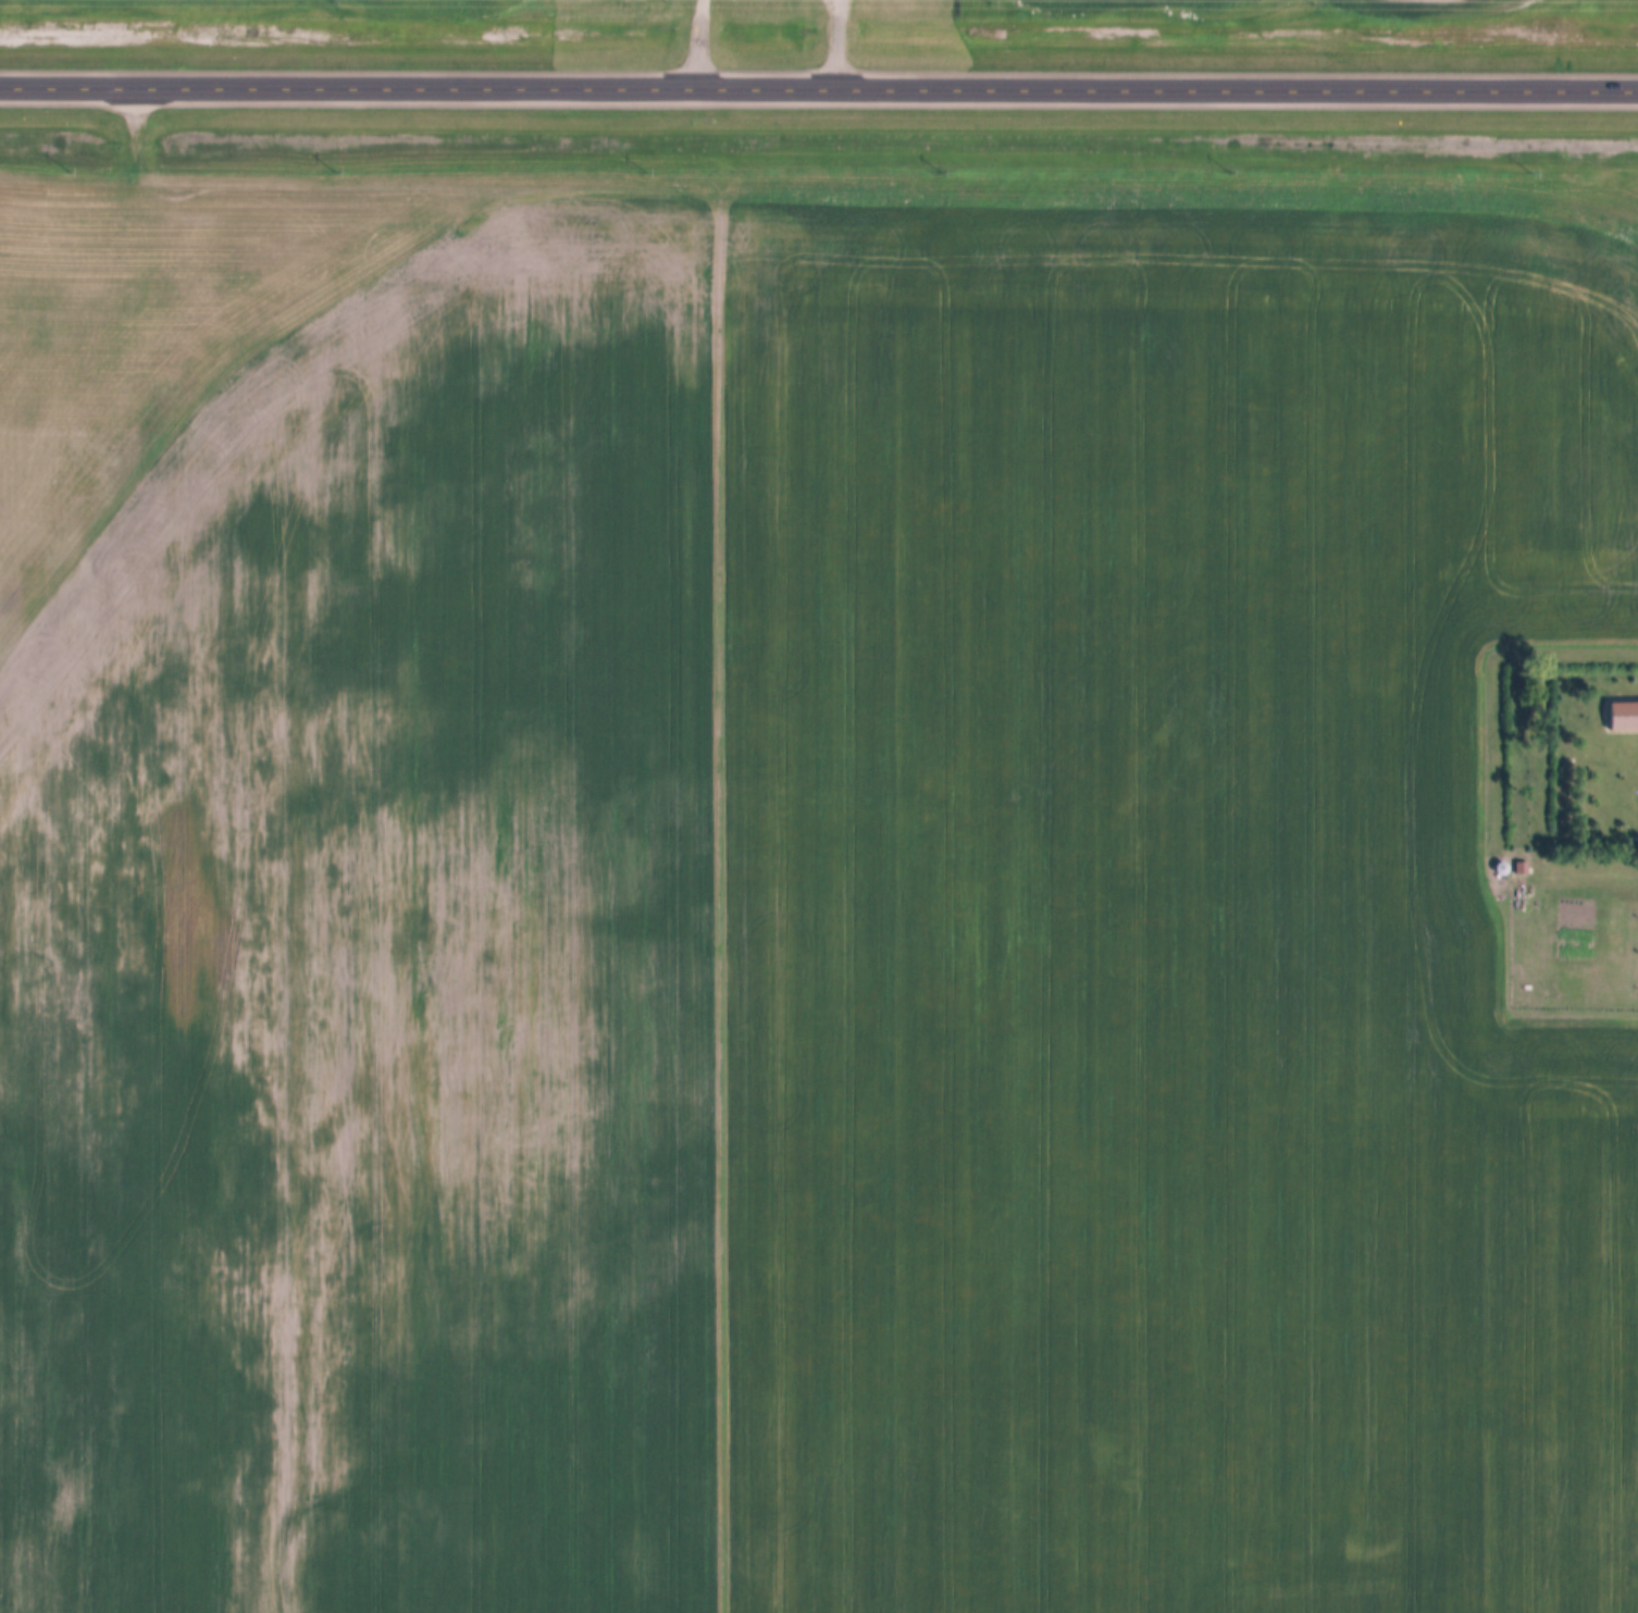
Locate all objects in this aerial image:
road: (695, 46)
road: (819, 91)

